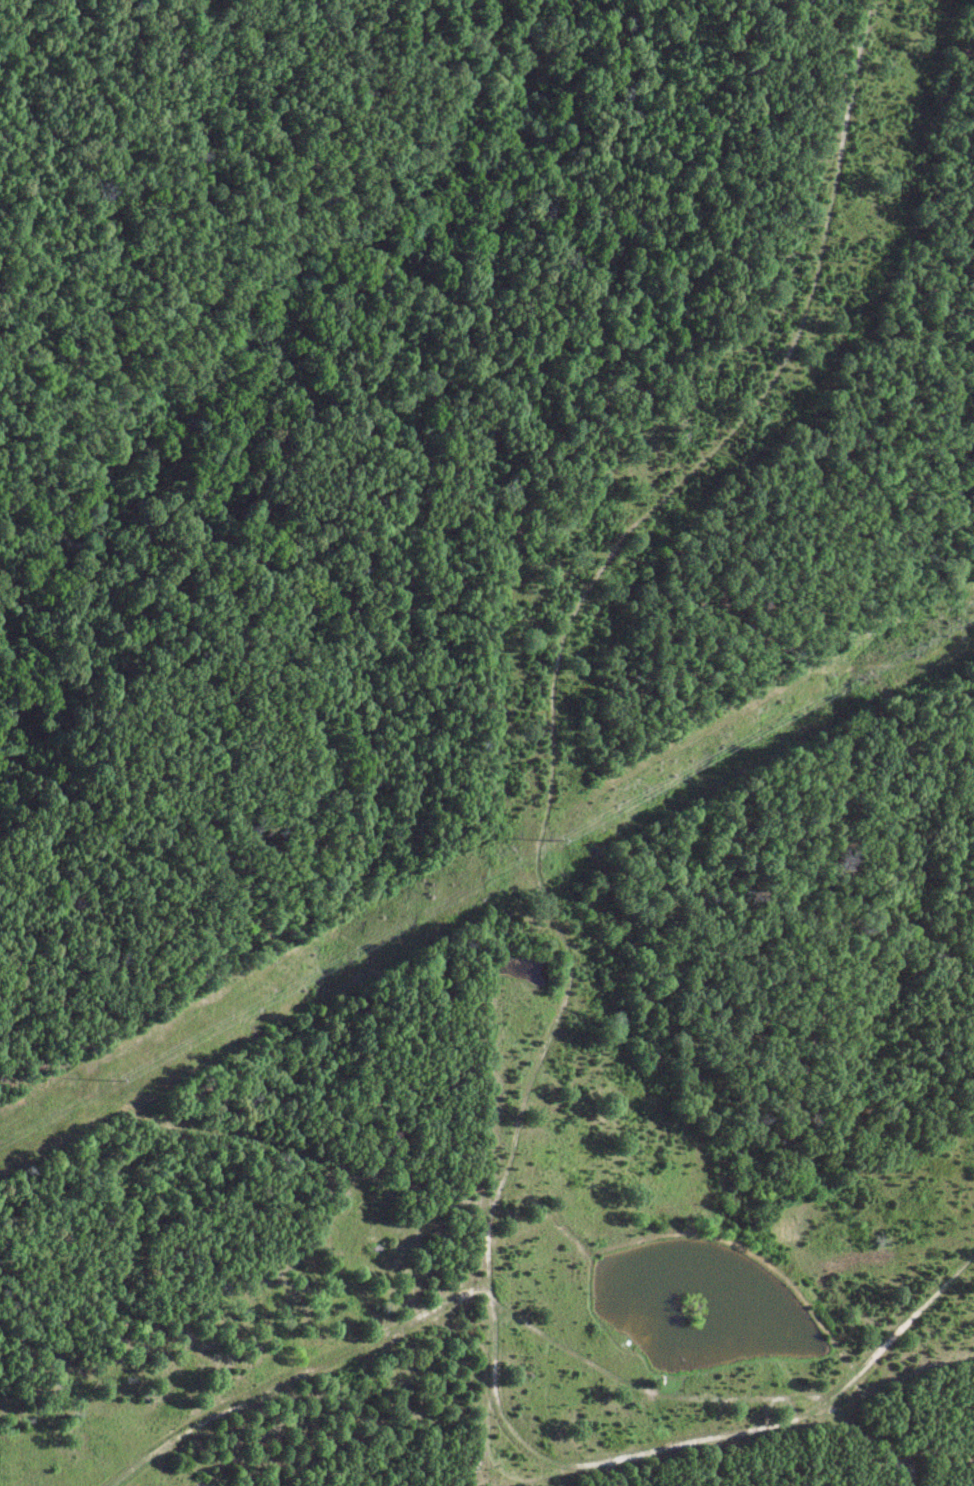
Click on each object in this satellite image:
road: (66, 399)

